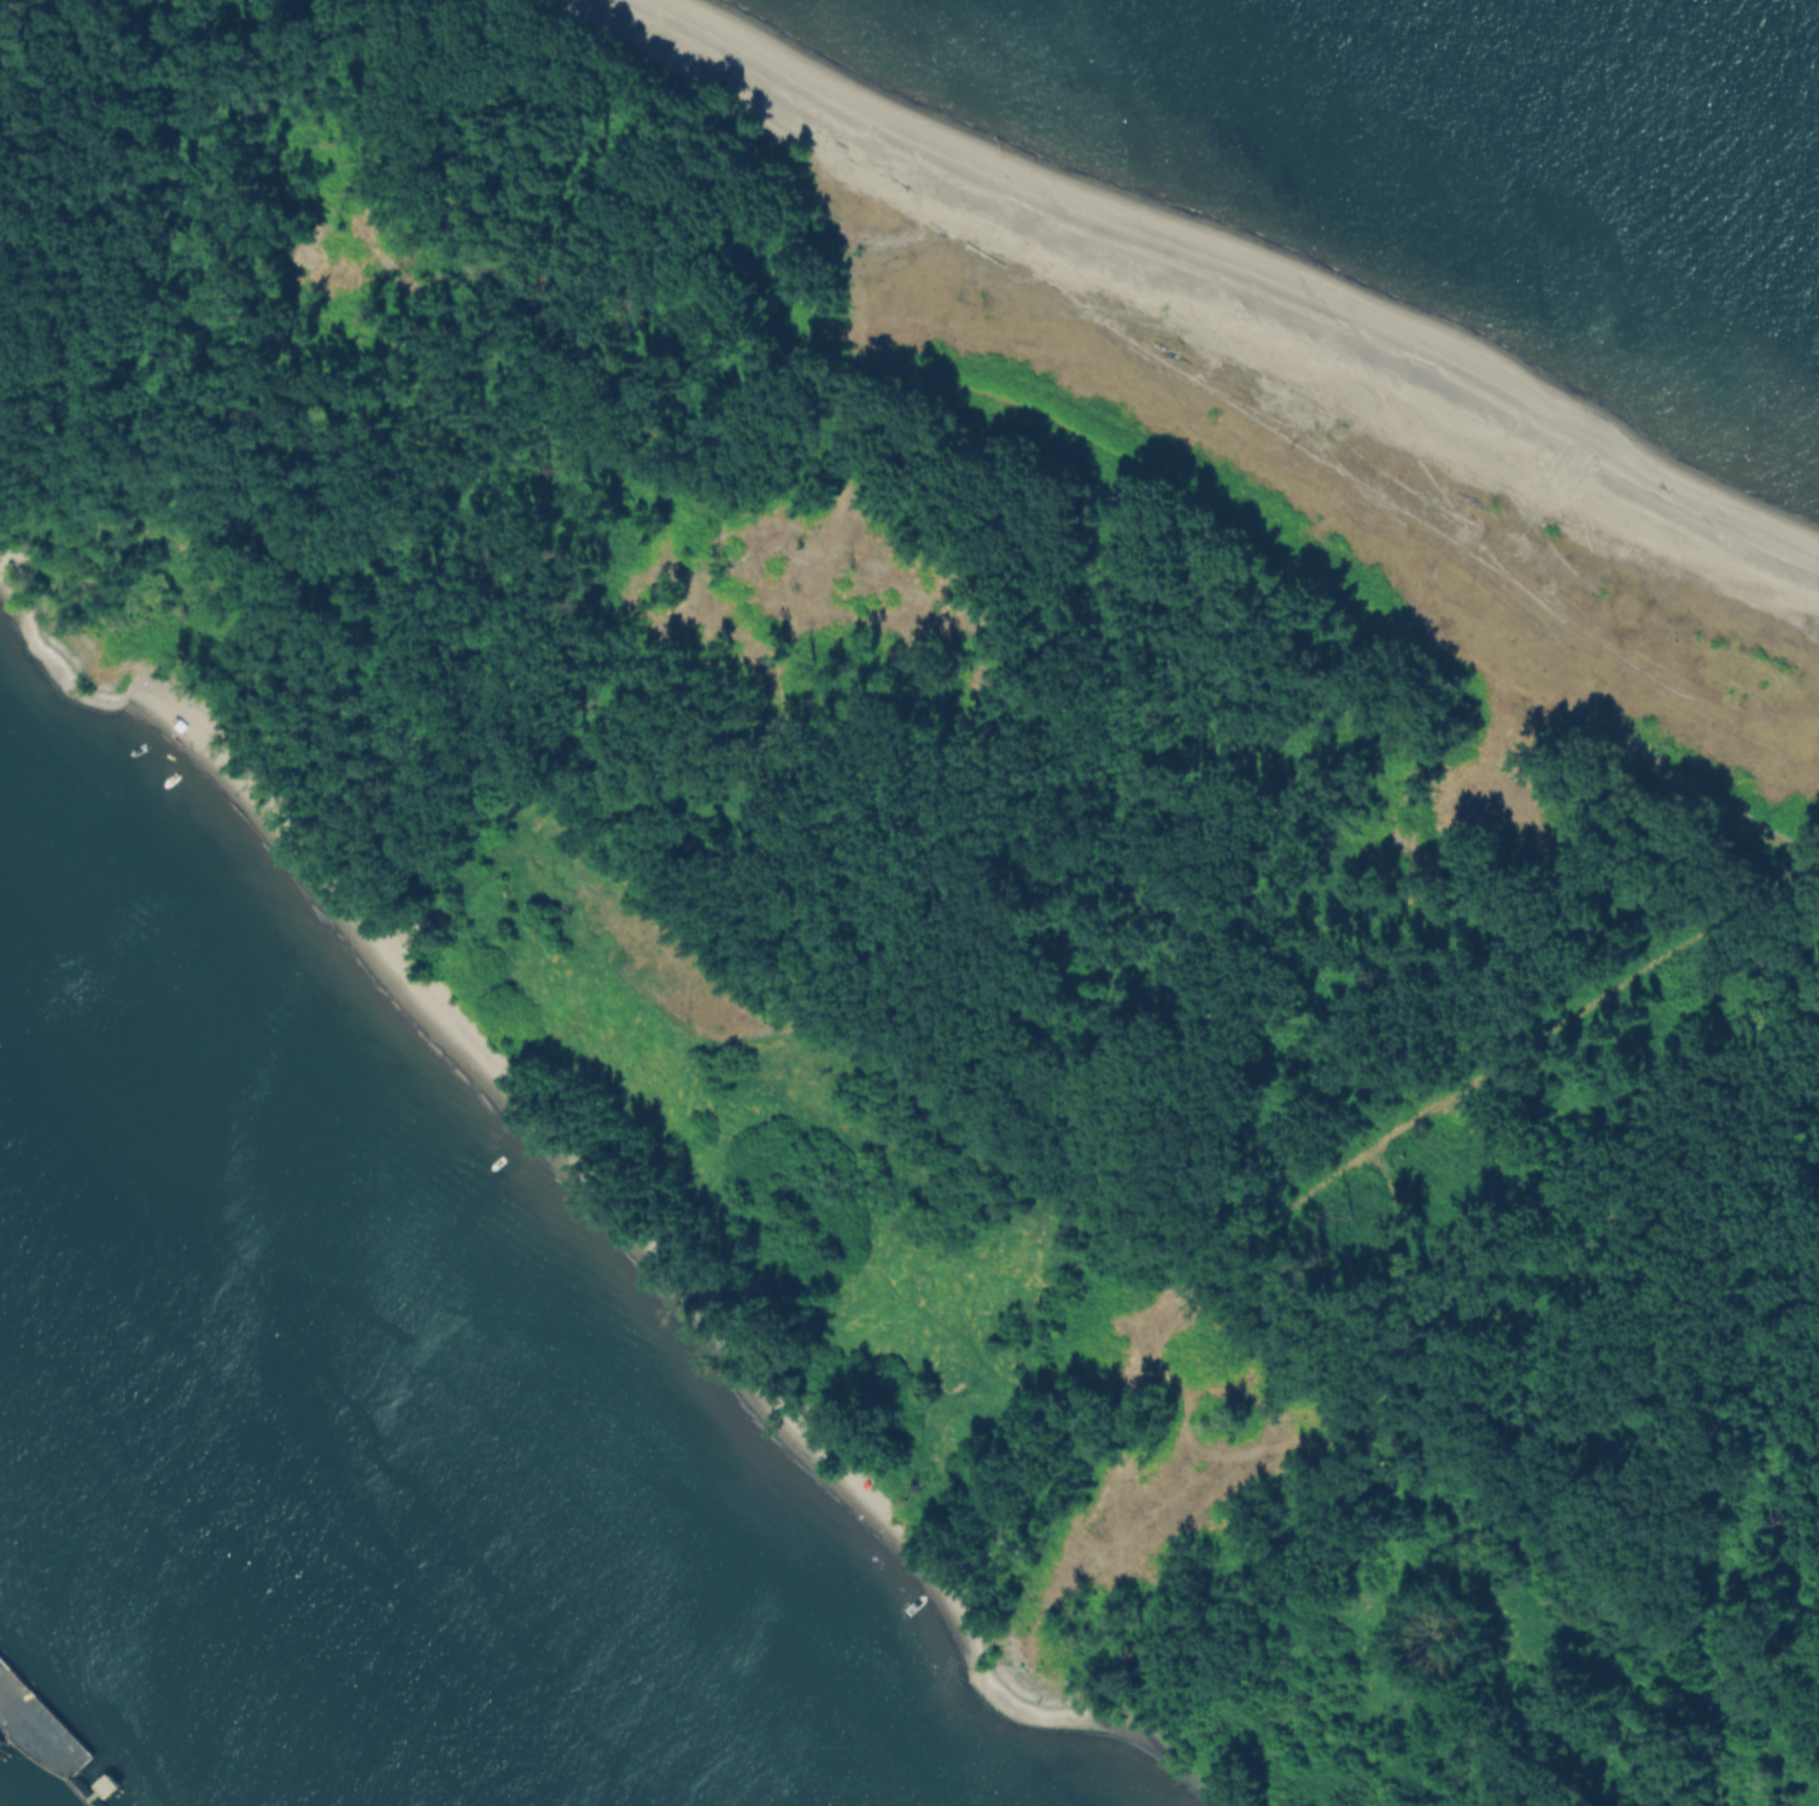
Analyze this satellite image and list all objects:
road: (1112, 381)
river: (304, 1480)
pier: (40, 1737)

